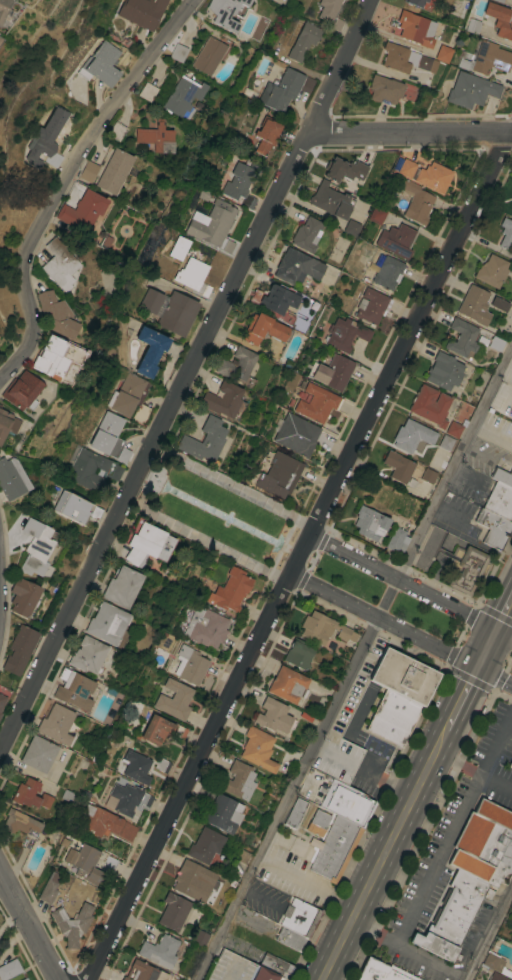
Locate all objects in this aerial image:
building: (499, 1)
building: (416, 2)
building: (3, 7)
building: (327, 9)
building: (141, 12)
building: (226, 12)
building: (500, 19)
building: (473, 26)
building: (415, 28)
building: (303, 41)
building: (177, 52)
building: (442, 53)
building: (208, 55)
building: (486, 58)
building: (405, 59)
building: (101, 64)
building: (284, 89)
building: (384, 89)
building: (471, 90)
building: (147, 91)
building: (182, 97)
building: (116, 130)
road: (409, 134)
building: (155, 135)
building: (266, 135)
building: (46, 139)
building: (343, 169)
building: (88, 170)
building: (114, 170)
building: (425, 174)
road: (65, 179)
building: (240, 183)
building: (330, 200)
building: (416, 202)
building: (82, 211)
building: (376, 214)
building: (511, 214)
building: (212, 226)
building: (351, 227)
building: (505, 232)
building: (306, 234)
building: (396, 240)
building: (178, 247)
building: (59, 264)
building: (296, 266)
building: (491, 271)
building: (387, 273)
building: (193, 276)
building: (511, 276)
building: (275, 301)
building: (499, 303)
building: (474, 304)
building: (371, 305)
building: (169, 309)
building: (55, 315)
building: (264, 330)
building: (345, 333)
building: (462, 338)
building: (495, 343)
building: (149, 350)
building: (55, 357)
building: (235, 362)
building: (443, 370)
building: (332, 371)
road: (184, 377)
building: (20, 390)
building: (129, 397)
building: (225, 399)
building: (317, 403)
building: (430, 405)
building: (7, 423)
building: (455, 427)
building: (296, 434)
building: (408, 436)
building: (109, 438)
building: (204, 440)
building: (445, 442)
road: (157, 448)
road: (166, 449)
street lamp: (179, 466)
building: (397, 466)
building: (91, 469)
building: (278, 474)
road: (143, 475)
street lamp: (197, 475)
building: (428, 475)
building: (502, 476)
building: (11, 478)
road: (147, 480)
flagpole: (154, 481)
fountain: (161, 485)
road: (235, 487)
building: (500, 501)
building: (75, 507)
street lamp: (157, 509)
park: (216, 512)
road: (149, 513)
street lamp: (304, 514)
street lamp: (175, 519)
street lamp: (284, 520)
building: (369, 522)
road: (304, 524)
building: (492, 527)
building: (397, 540)
building: (143, 542)
road: (209, 543)
road: (282, 545)
building: (35, 547)
street lamp: (355, 547)
road: (296, 552)
road: (300, 555)
road: (311, 560)
street lamp: (263, 564)
road: (401, 565)
building: (466, 568)
road: (278, 575)
street lamp: (410, 575)
park: (342, 576)
street lamp: (271, 580)
road: (403, 582)
building: (121, 586)
building: (230, 590)
building: (22, 596)
street lamp: (465, 602)
street lamp: (326, 604)
road: (494, 611)
road: (504, 615)
park: (426, 618)
road: (384, 621)
building: (106, 623)
building: (206, 627)
building: (323, 628)
road: (368, 630)
street lamp: (382, 632)
road: (504, 633)
road: (459, 635)
road: (484, 647)
building: (20, 648)
road: (487, 648)
building: (298, 653)
building: (87, 654)
street lamp: (437, 660)
road: (352, 661)
park: (507, 662)
building: (190, 664)
road: (502, 673)
road: (495, 675)
road: (467, 680)
building: (288, 684)
building: (74, 690)
building: (398, 694)
road: (502, 697)
building: (1, 699)
building: (174, 699)
road: (457, 710)
building: (274, 715)
building: (56, 724)
building: (160, 729)
building: (258, 749)
building: (37, 753)
building: (510, 763)
building: (162, 765)
building: (136, 766)
road: (475, 771)
road: (428, 772)
building: (238, 780)
building: (30, 794)
building: (125, 798)
building: (347, 802)
building: (223, 813)
building: (295, 813)
building: (104, 822)
building: (318, 822)
building: (20, 823)
road: (453, 826)
building: (205, 845)
building: (334, 847)
building: (83, 861)
building: (109, 863)
building: (469, 876)
building: (193, 880)
road: (372, 885)
building: (48, 890)
building: (173, 911)
building: (299, 917)
building: (71, 923)
road: (27, 931)
road: (489, 933)
building: (200, 937)
building: (290, 938)
building: (159, 950)
road: (410, 950)
building: (494, 963)
building: (276, 965)
building: (237, 968)
building: (9, 969)
building: (381, 971)
building: (144, 972)
building: (511, 973)
building: (497, 976)
building: (24, 979)

